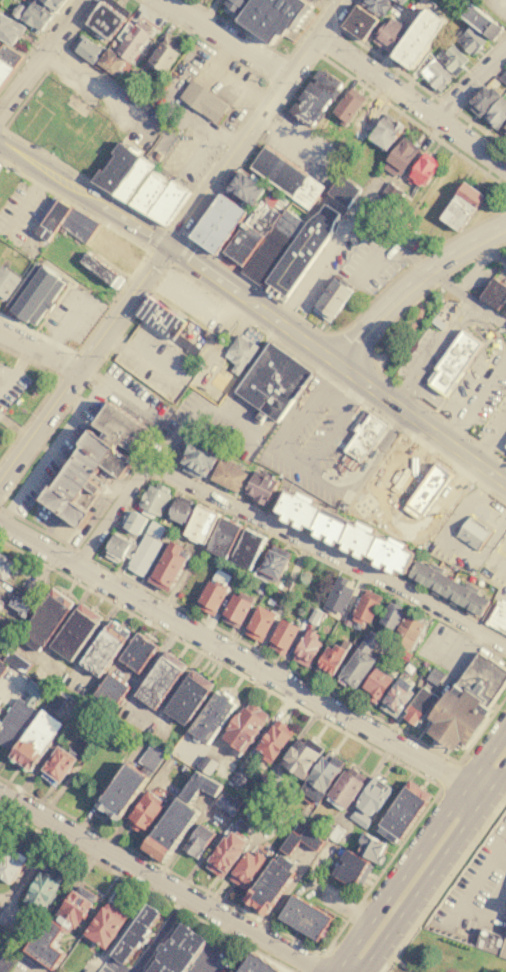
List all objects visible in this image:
building: (209, 0)
building: (312, 1)
building: (400, 2)
building: (51, 4)
building: (377, 6)
building: (18, 9)
road: (210, 11)
building: (36, 15)
building: (267, 15)
building: (105, 21)
building: (481, 21)
building: (361, 24)
road: (238, 29)
building: (9, 30)
building: (388, 33)
building: (418, 37)
road: (225, 38)
building: (134, 39)
building: (0, 40)
road: (203, 40)
building: (469, 40)
road: (328, 41)
road: (34, 45)
building: (86, 49)
road: (40, 51)
building: (163, 56)
building: (452, 58)
building: (7, 60)
building: (110, 62)
road: (279, 68)
building: (118, 73)
building: (435, 74)
building: (503, 76)
road: (413, 80)
road: (471, 86)
parking lot: (96, 88)
road: (96, 90)
building: (315, 99)
building: (483, 100)
building: (202, 101)
road: (410, 104)
building: (73, 105)
road: (447, 105)
building: (348, 107)
road: (260, 112)
building: (496, 114)
building: (367, 118)
road: (1, 128)
building: (504, 128)
road: (481, 129)
building: (385, 132)
road: (17, 138)
road: (295, 143)
road: (220, 152)
building: (400, 158)
building: (0, 167)
building: (115, 168)
building: (422, 172)
building: (285, 176)
building: (133, 179)
building: (245, 188)
road: (74, 190)
building: (392, 191)
building: (148, 192)
building: (343, 192)
building: (168, 203)
road: (27, 205)
building: (461, 207)
road: (205, 212)
building: (51, 220)
building: (212, 220)
traffic signals: (184, 226)
building: (225, 229)
building: (245, 229)
road: (179, 230)
traffic signals: (148, 236)
building: (255, 236)
road: (157, 239)
building: (101, 240)
road: (170, 246)
road: (167, 247)
building: (272, 247)
road: (181, 253)
building: (299, 255)
traffic signals: (186, 261)
road: (372, 261)
road: (415, 263)
road: (138, 266)
traffic signals: (156, 267)
building: (101, 269)
road: (313, 269)
building: (7, 282)
road: (410, 282)
building: (34, 293)
building: (493, 294)
road: (219, 298)
building: (331, 299)
building: (187, 300)
road: (259, 310)
building: (162, 319)
road: (67, 324)
road: (388, 326)
road: (488, 329)
park: (408, 331)
road: (40, 351)
road: (432, 351)
building: (241, 353)
road: (65, 362)
building: (453, 362)
road: (14, 367)
road: (78, 375)
road: (192, 378)
building: (273, 381)
parking lot: (10, 386)
road: (50, 393)
road: (477, 398)
road: (437, 402)
road: (420, 420)
road: (335, 424)
road: (184, 429)
parking lot: (313, 433)
road: (489, 436)
road: (58, 440)
building: (361, 441)
building: (505, 445)
gas station: (505, 445)
road: (480, 446)
building: (200, 458)
building: (95, 462)
road: (311, 471)
building: (229, 475)
building: (415, 480)
building: (259, 487)
building: (154, 498)
building: (438, 500)
building: (178, 509)
road: (392, 516)
road: (268, 521)
building: (134, 522)
building: (200, 524)
road: (38, 529)
building: (156, 530)
building: (344, 532)
building: (473, 532)
building: (223, 538)
road: (450, 539)
building: (118, 548)
building: (247, 549)
road: (339, 550)
road: (83, 554)
building: (144, 555)
road: (505, 558)
road: (93, 559)
building: (272, 564)
building: (4, 565)
building: (168, 566)
building: (0, 585)
building: (260, 586)
building: (448, 587)
building: (337, 596)
building: (211, 598)
building: (22, 603)
building: (366, 607)
building: (236, 609)
building: (312, 616)
building: (498, 617)
building: (45, 619)
building: (390, 619)
building: (259, 624)
building: (75, 631)
building: (407, 633)
building: (282, 637)
building: (104, 647)
building: (306, 649)
building: (137, 653)
road: (233, 655)
building: (401, 656)
road: (459, 657)
building: (330, 659)
building: (359, 661)
building: (15, 662)
building: (2, 667)
building: (435, 675)
building: (159, 680)
building: (375, 686)
building: (110, 691)
building: (188, 698)
building: (397, 698)
building: (53, 702)
building: (467, 702)
building: (420, 707)
building: (18, 714)
building: (211, 717)
building: (245, 726)
building: (35, 739)
building: (273, 739)
building: (300, 757)
road: (487, 758)
building: (207, 765)
building: (56, 766)
road: (449, 774)
building: (238, 779)
building: (320, 779)
road: (495, 780)
building: (199, 788)
building: (346, 789)
road: (476, 790)
building: (121, 792)
building: (263, 796)
building: (373, 796)
road: (135, 804)
building: (228, 804)
road: (7, 813)
building: (144, 813)
building: (402, 813)
road: (421, 815)
building: (270, 816)
building: (359, 820)
building: (169, 831)
building: (334, 834)
road: (499, 840)
building: (197, 842)
building: (296, 844)
street lamp: (475, 847)
building: (369, 850)
building: (226, 854)
building: (9, 864)
building: (247, 869)
building: (351, 870)
road: (401, 878)
road: (443, 882)
road: (157, 883)
road: (422, 883)
building: (269, 885)
building: (43, 889)
road: (147, 890)
parking lot: (475, 896)
street lamp: (434, 905)
building: (74, 908)
road: (457, 909)
building: (303, 918)
building: (104, 926)
building: (134, 935)
road: (159, 935)
building: (489, 941)
building: (44, 946)
road: (213, 947)
road: (503, 950)
building: (176, 951)
park: (446, 956)
road: (317, 963)
road: (399, 963)
building: (255, 965)
street lamp: (396, 965)
road: (110, 969)

